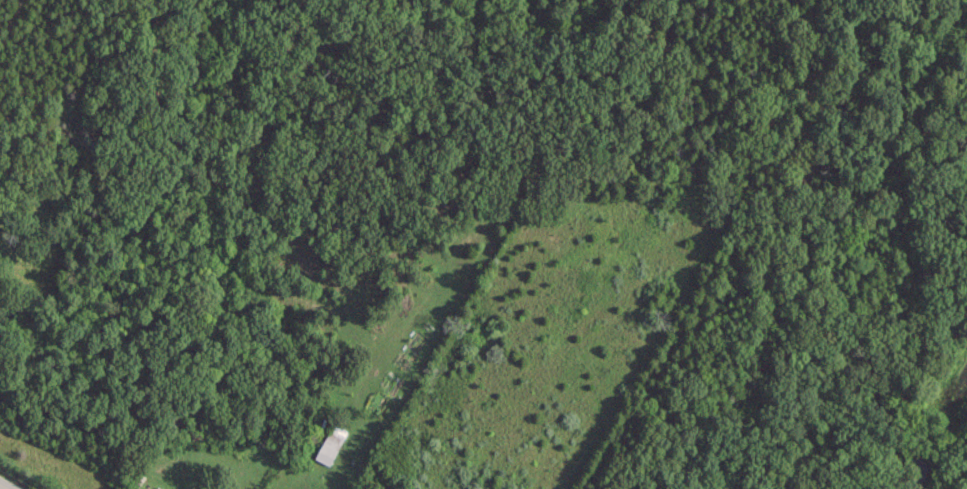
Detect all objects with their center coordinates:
building: (327, 447)
road: (4, 486)

